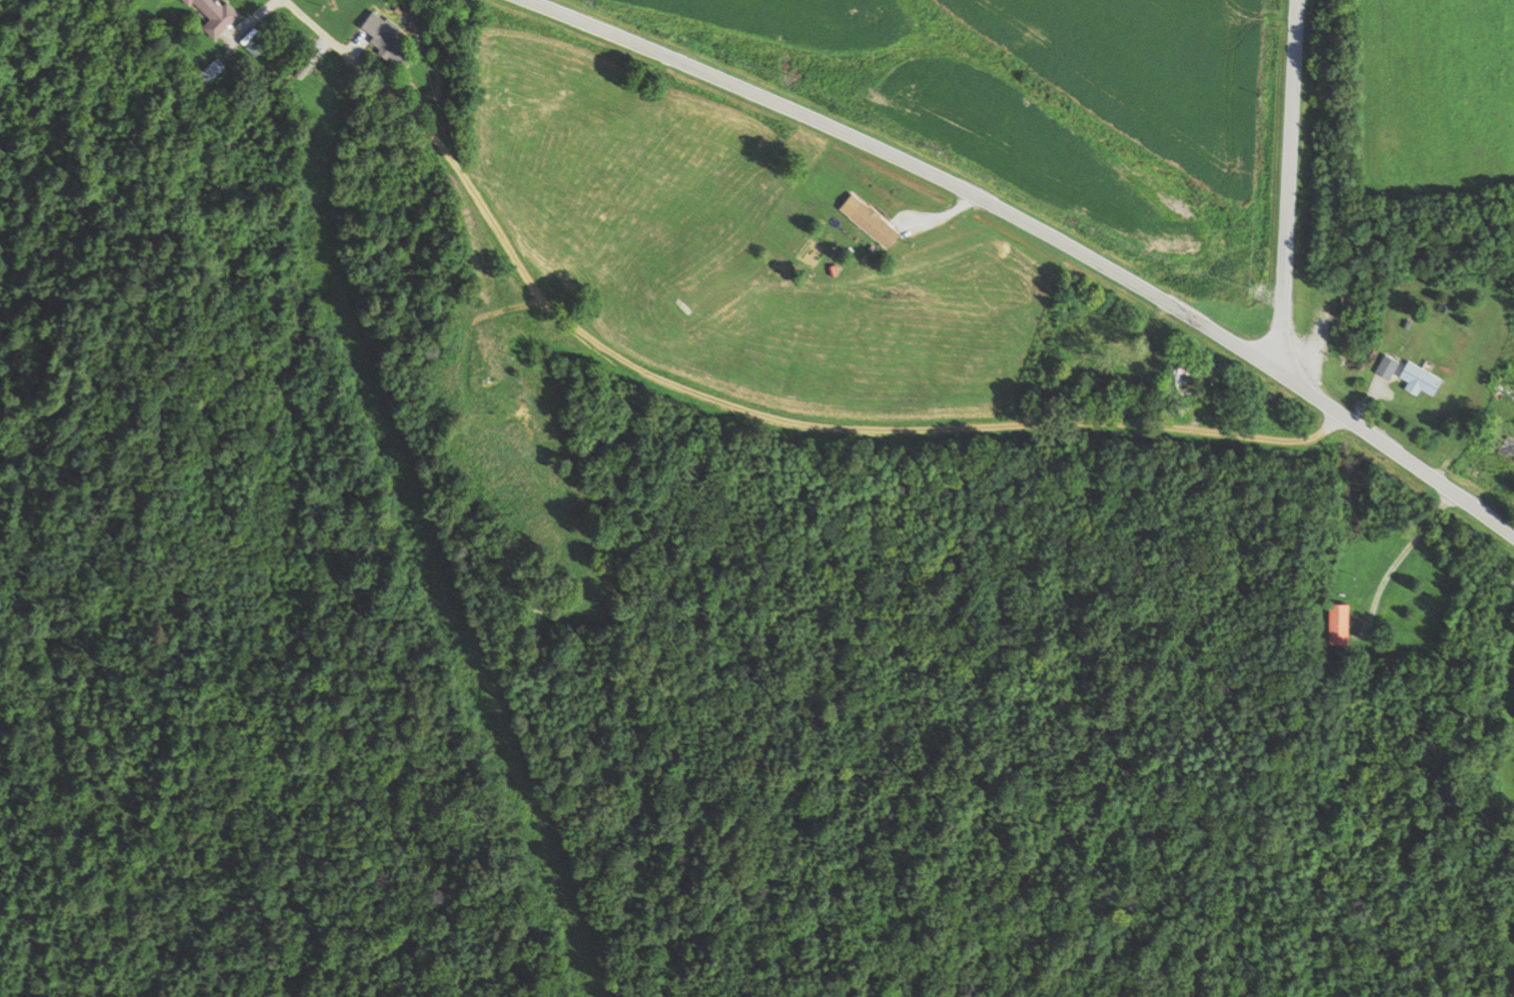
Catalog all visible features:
building: (220, 14)
building: (393, 39)
building: (214, 70)
road: (1287, 184)
building: (880, 224)
road: (1045, 229)
building: (1108, 365)
building: (1391, 366)
building: (1424, 377)
building: (1186, 379)
building: (496, 399)
road: (736, 407)
building: (1509, 445)
building: (1342, 623)

